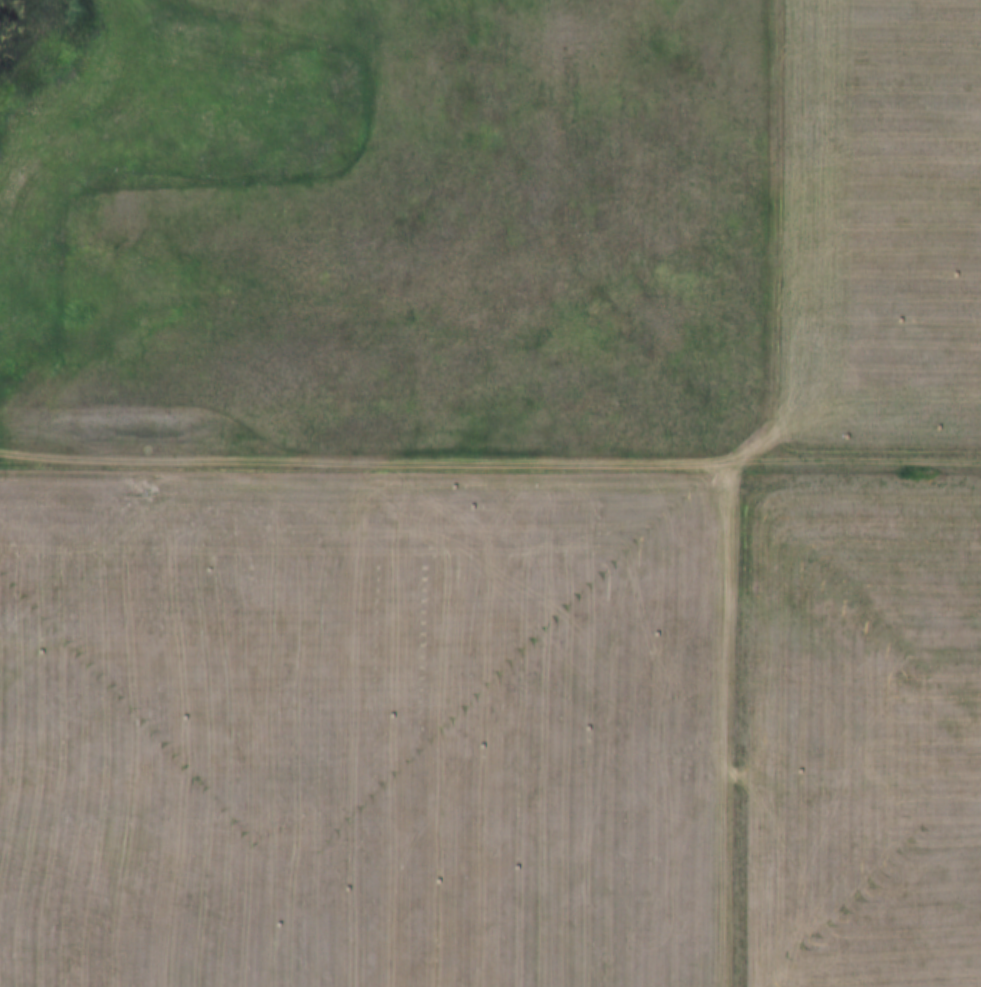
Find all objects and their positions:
road: (490, 461)
road: (736, 726)

